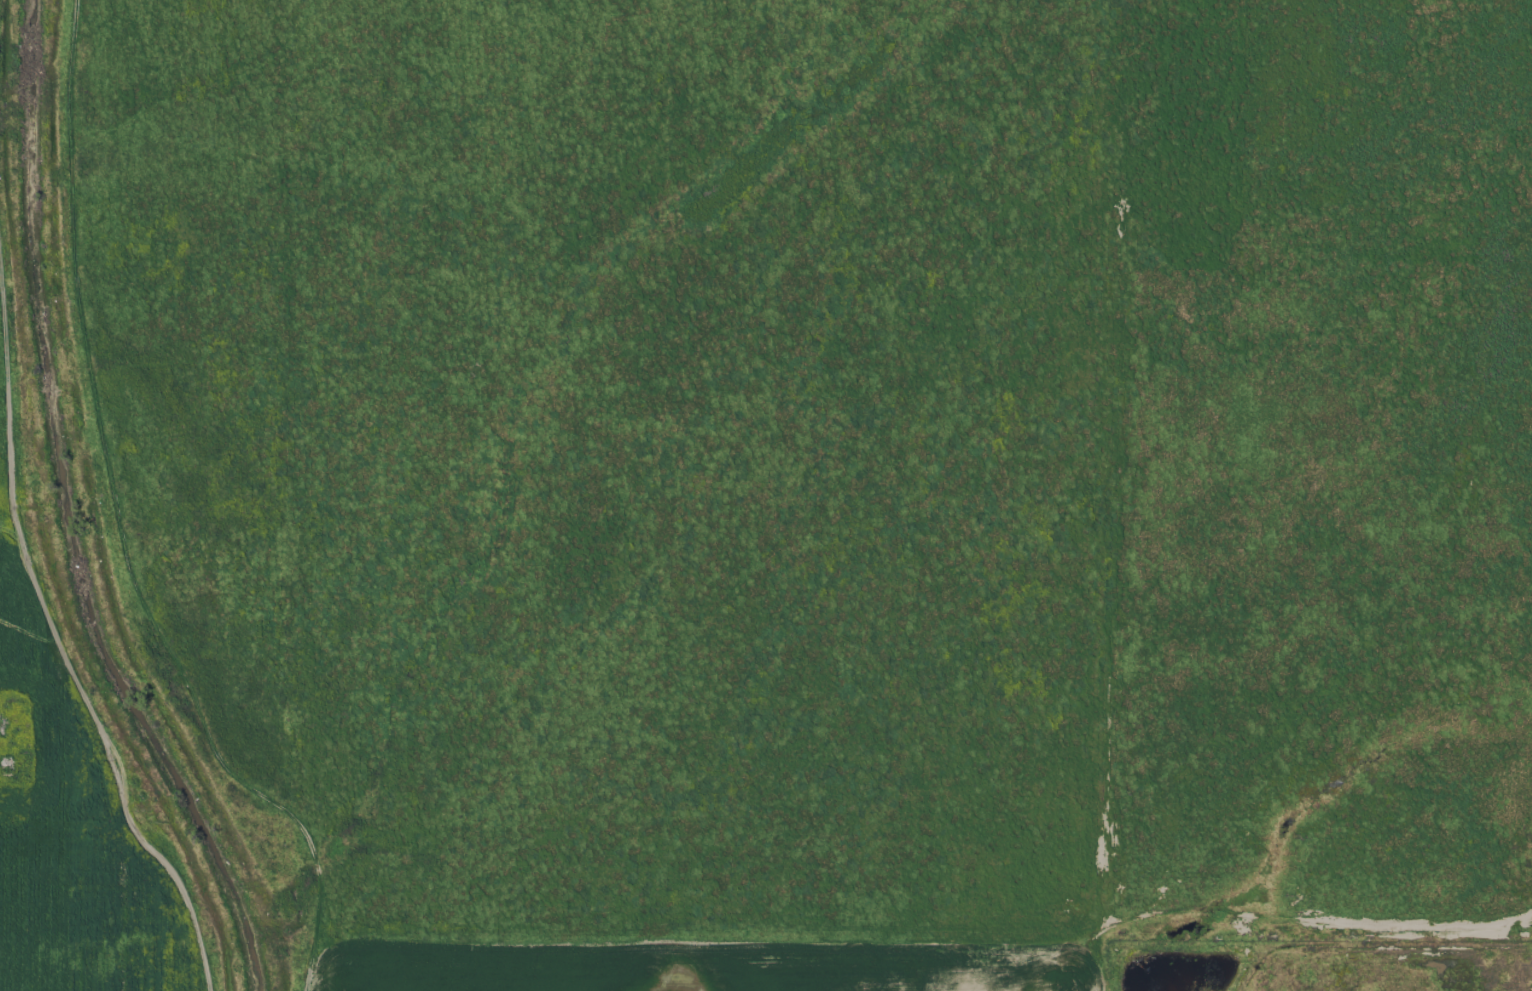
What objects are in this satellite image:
river: (74, 516)

